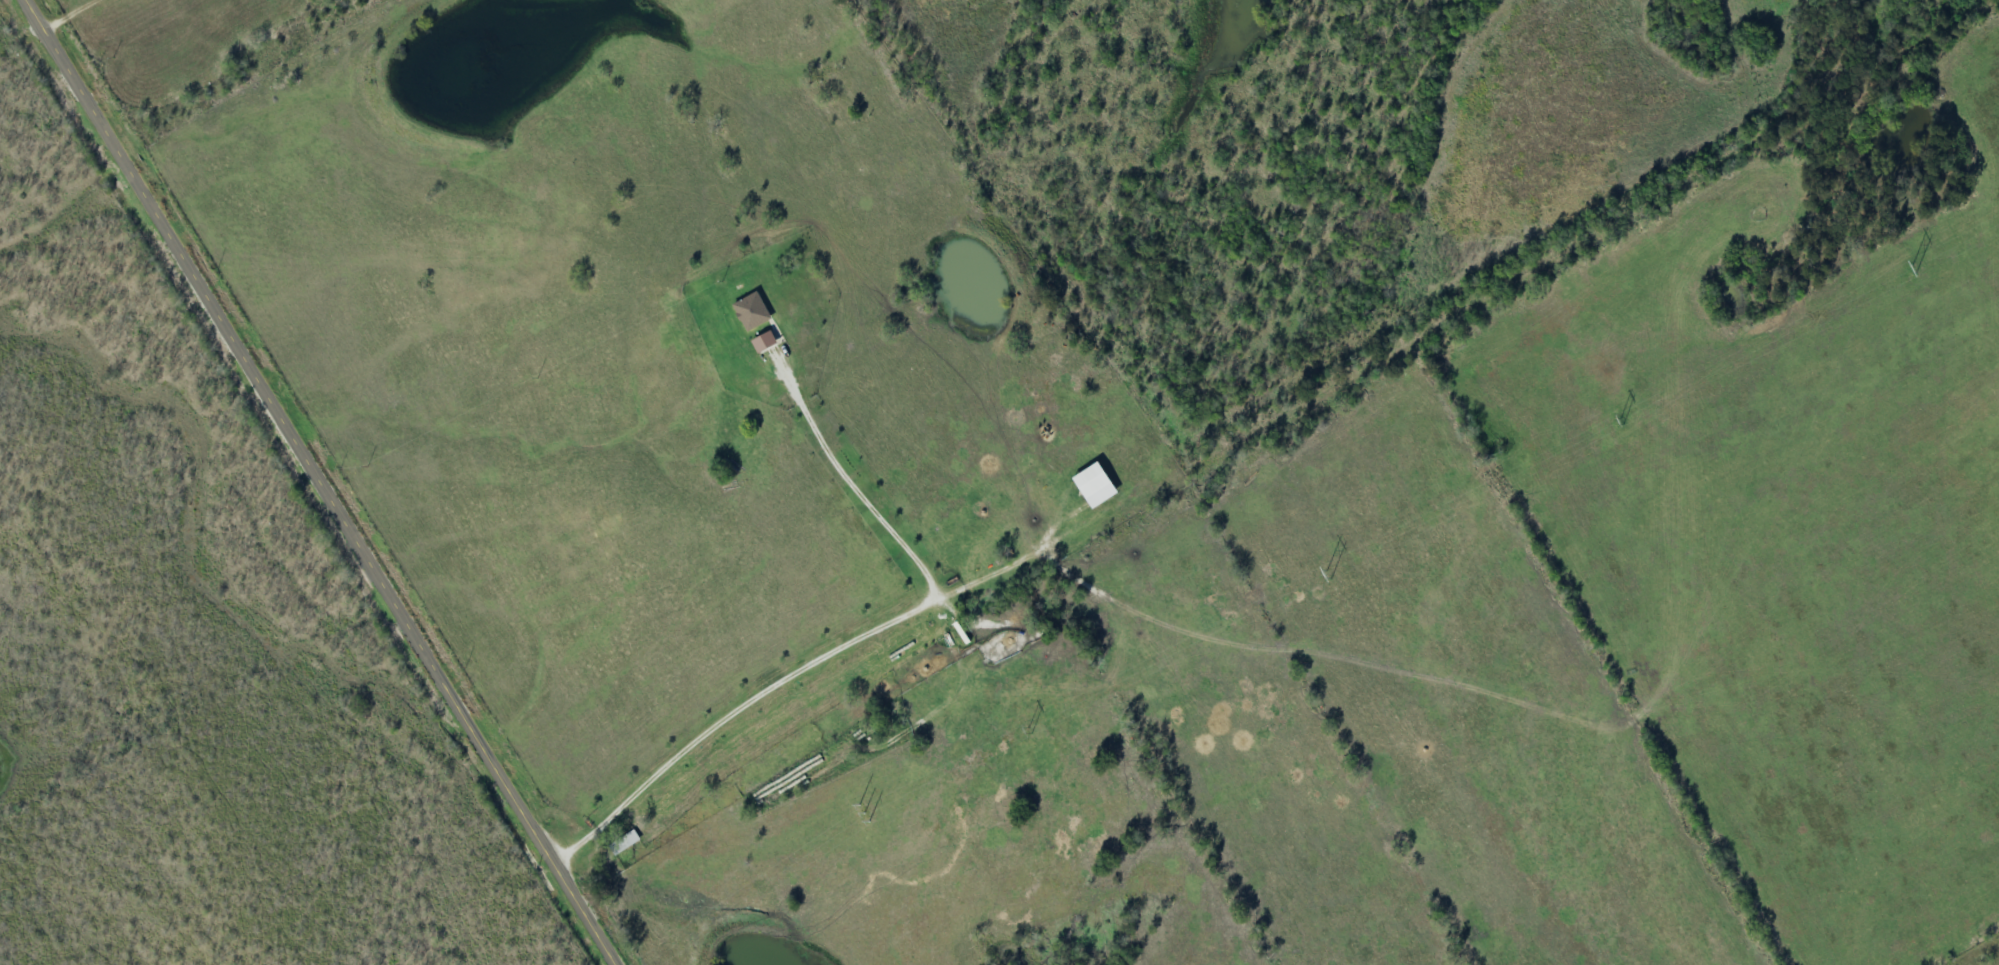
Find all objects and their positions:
road: (38, 6)
power tower: (1915, 268)
building: (752, 312)
building: (764, 342)
power tower: (1621, 419)
road: (319, 481)
building: (1093, 486)
power tower: (1330, 573)
power tower: (1030, 730)
power tower: (868, 811)
building: (624, 843)

